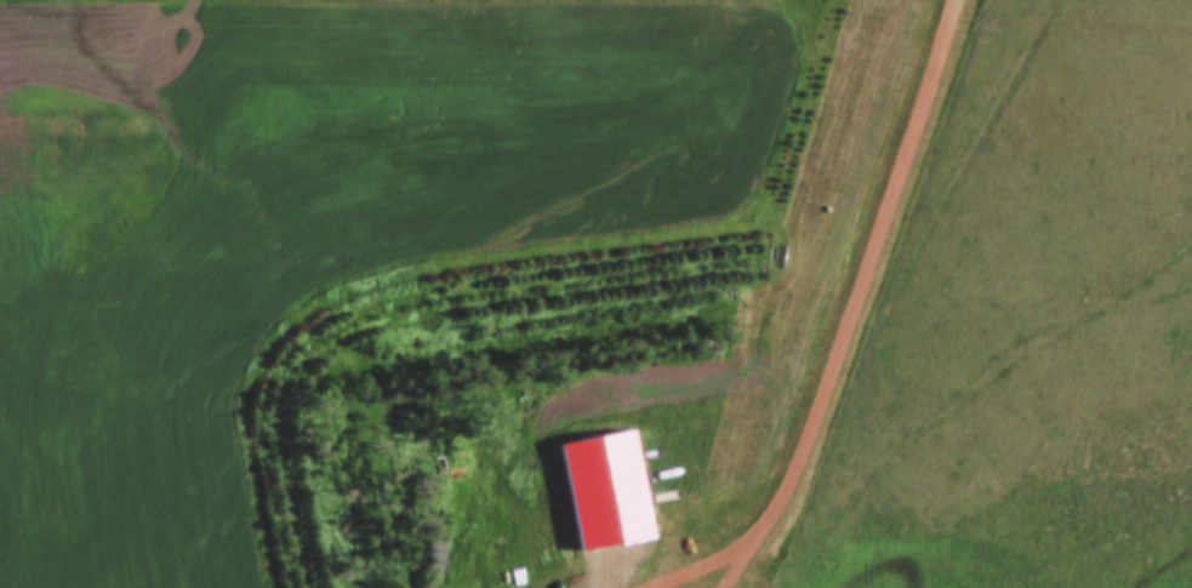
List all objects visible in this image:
road: (852, 326)

